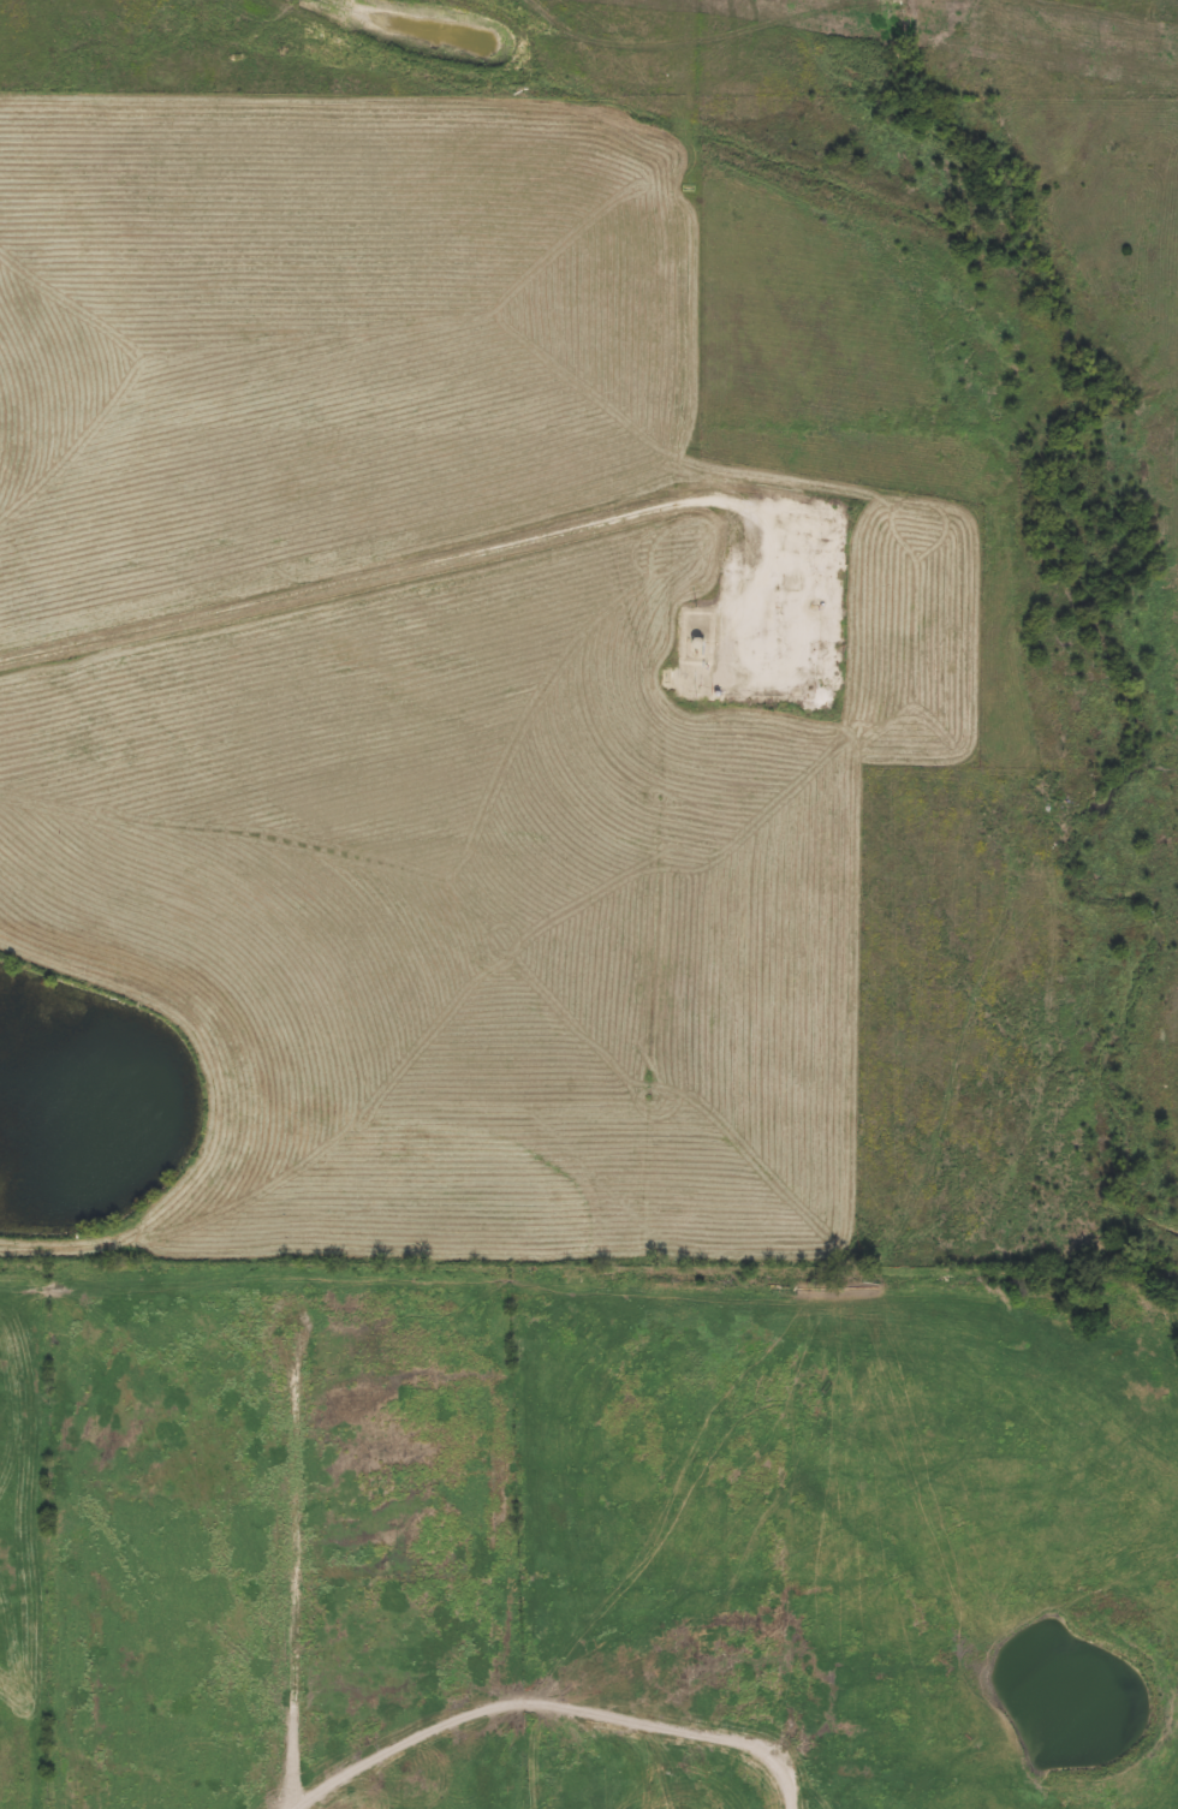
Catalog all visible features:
road: (346, 587)

